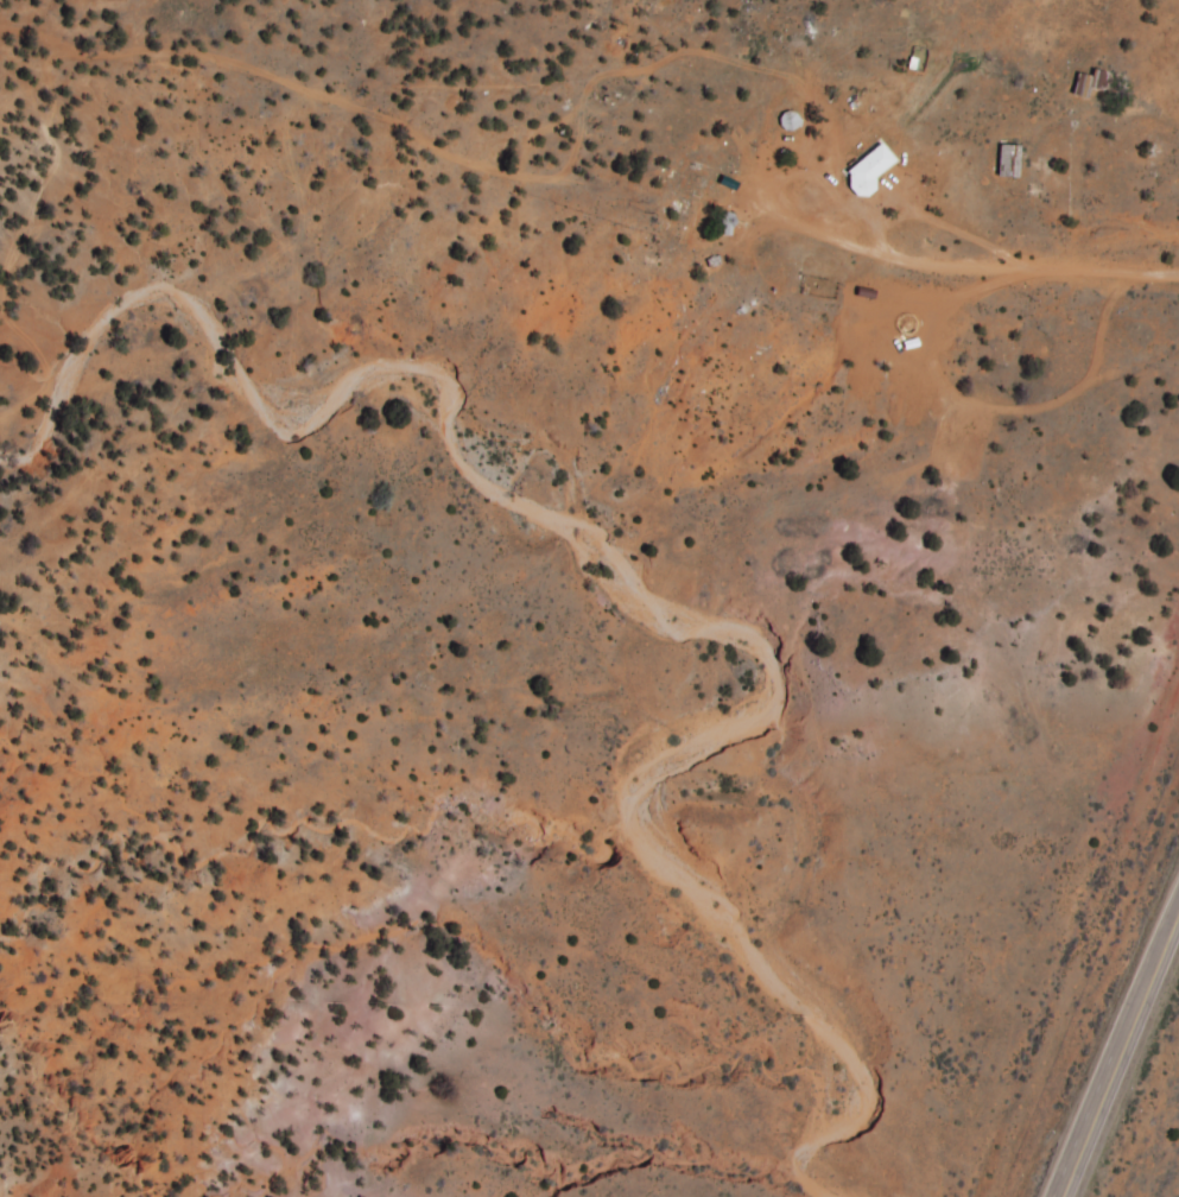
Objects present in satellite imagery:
building: (1085, 83)
building: (763, 138)
building: (1008, 159)
building: (867, 167)
building: (697, 223)
road: (1120, 1053)

